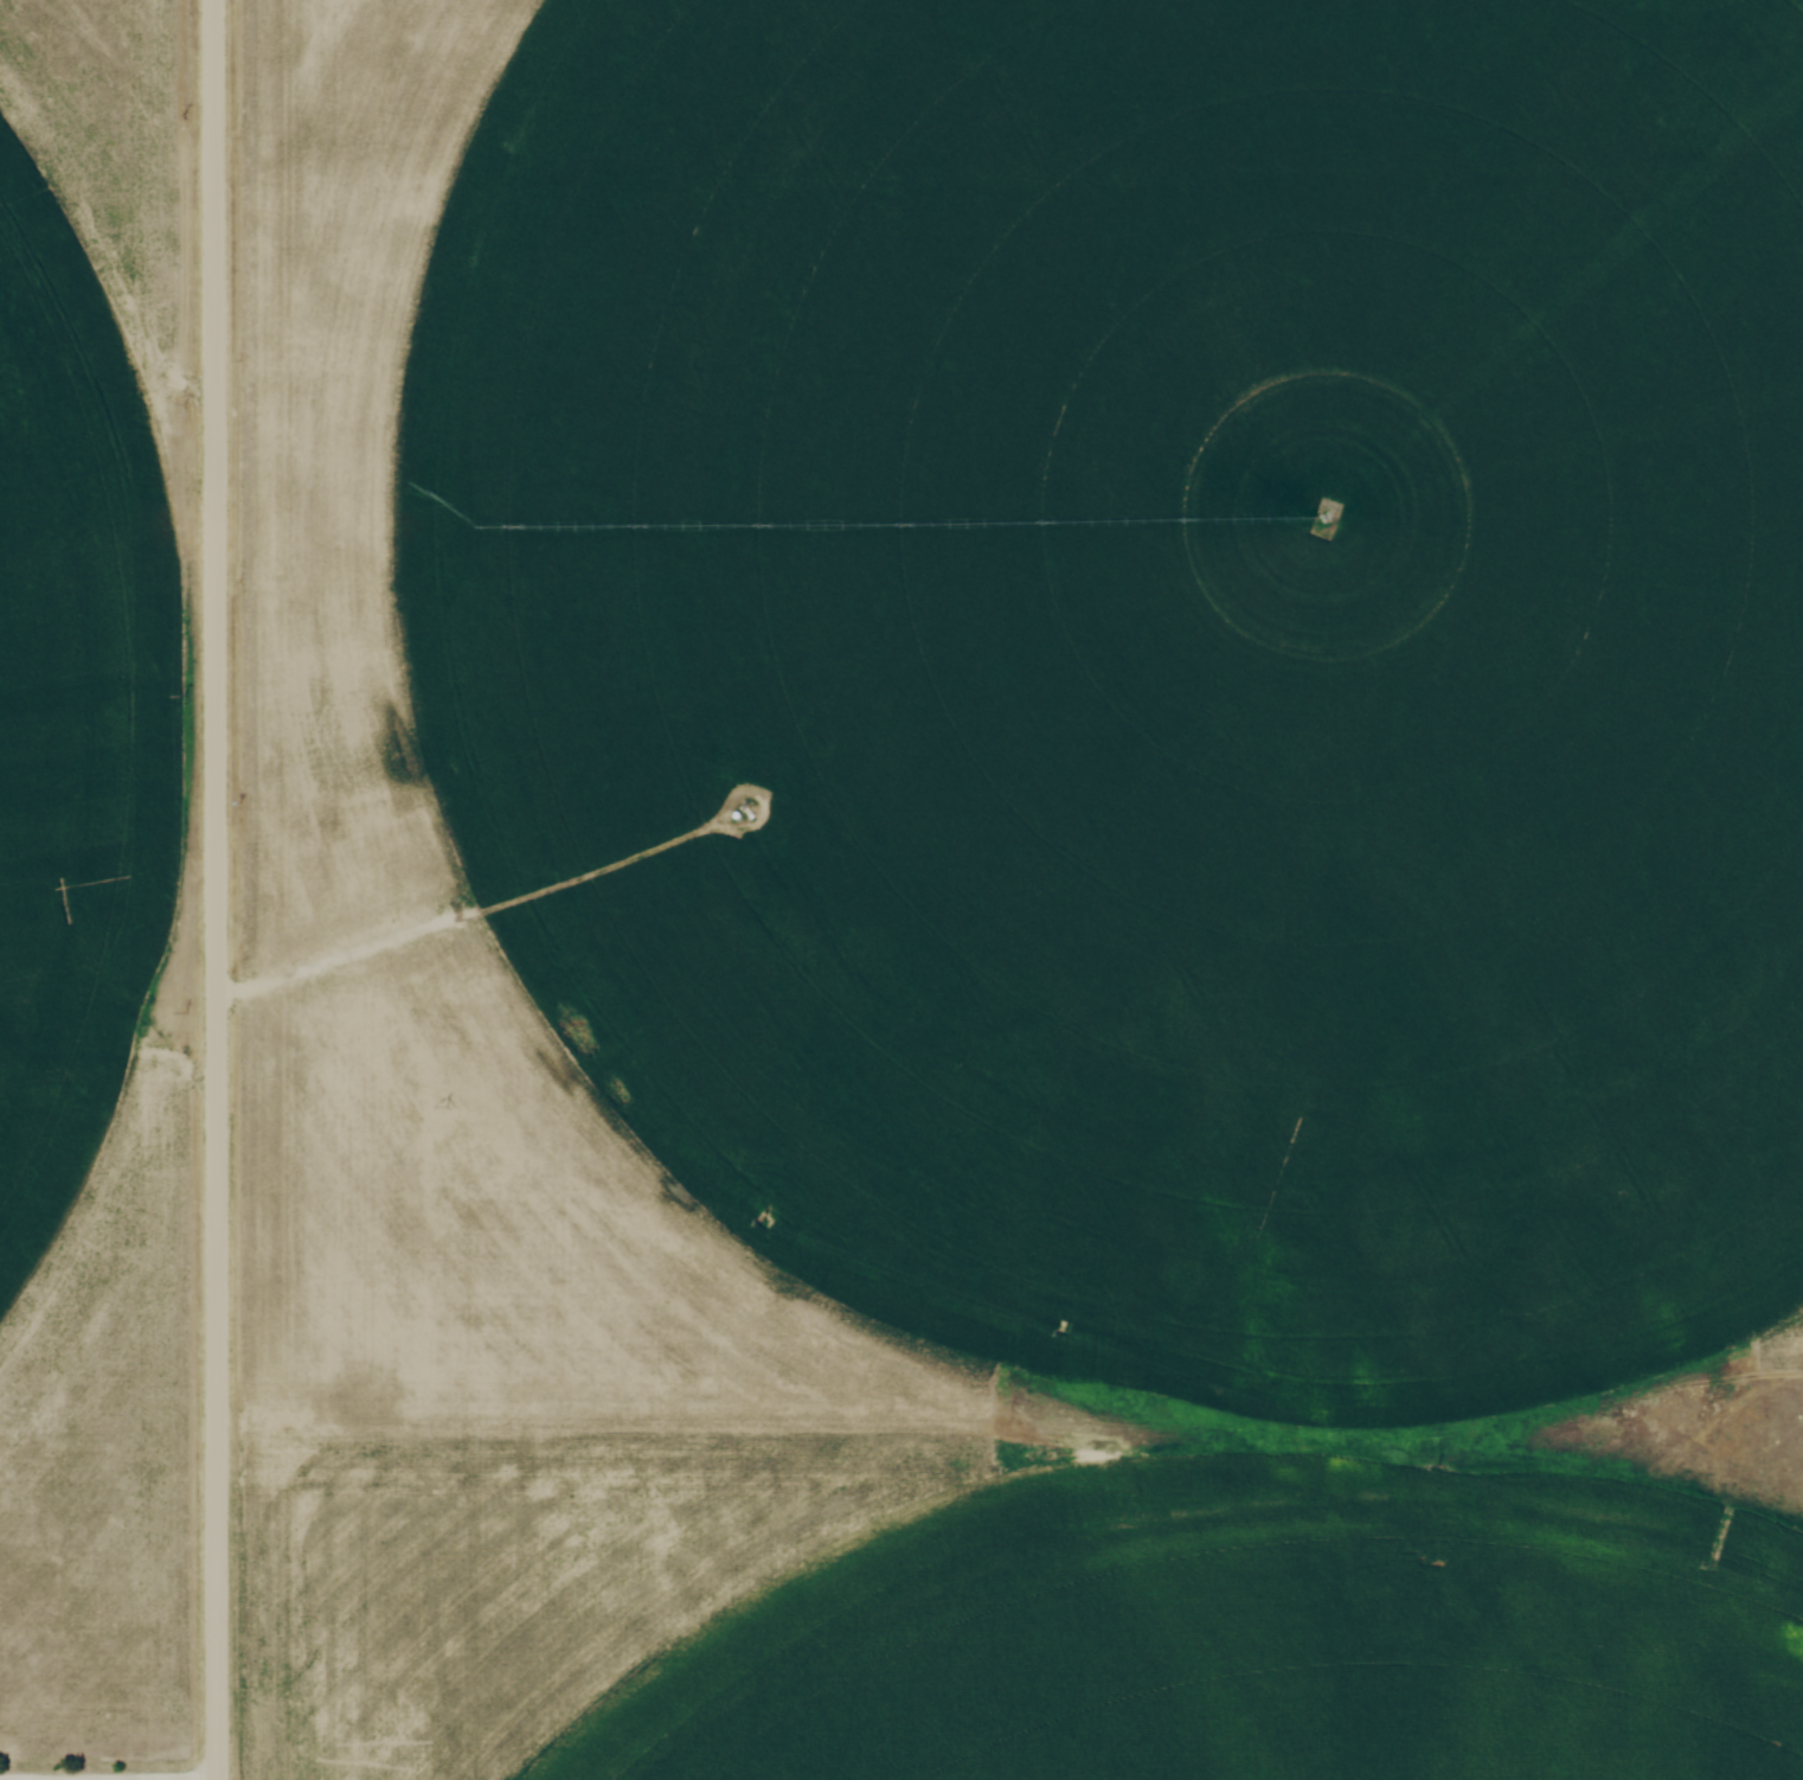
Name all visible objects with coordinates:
road: (212, 889)

